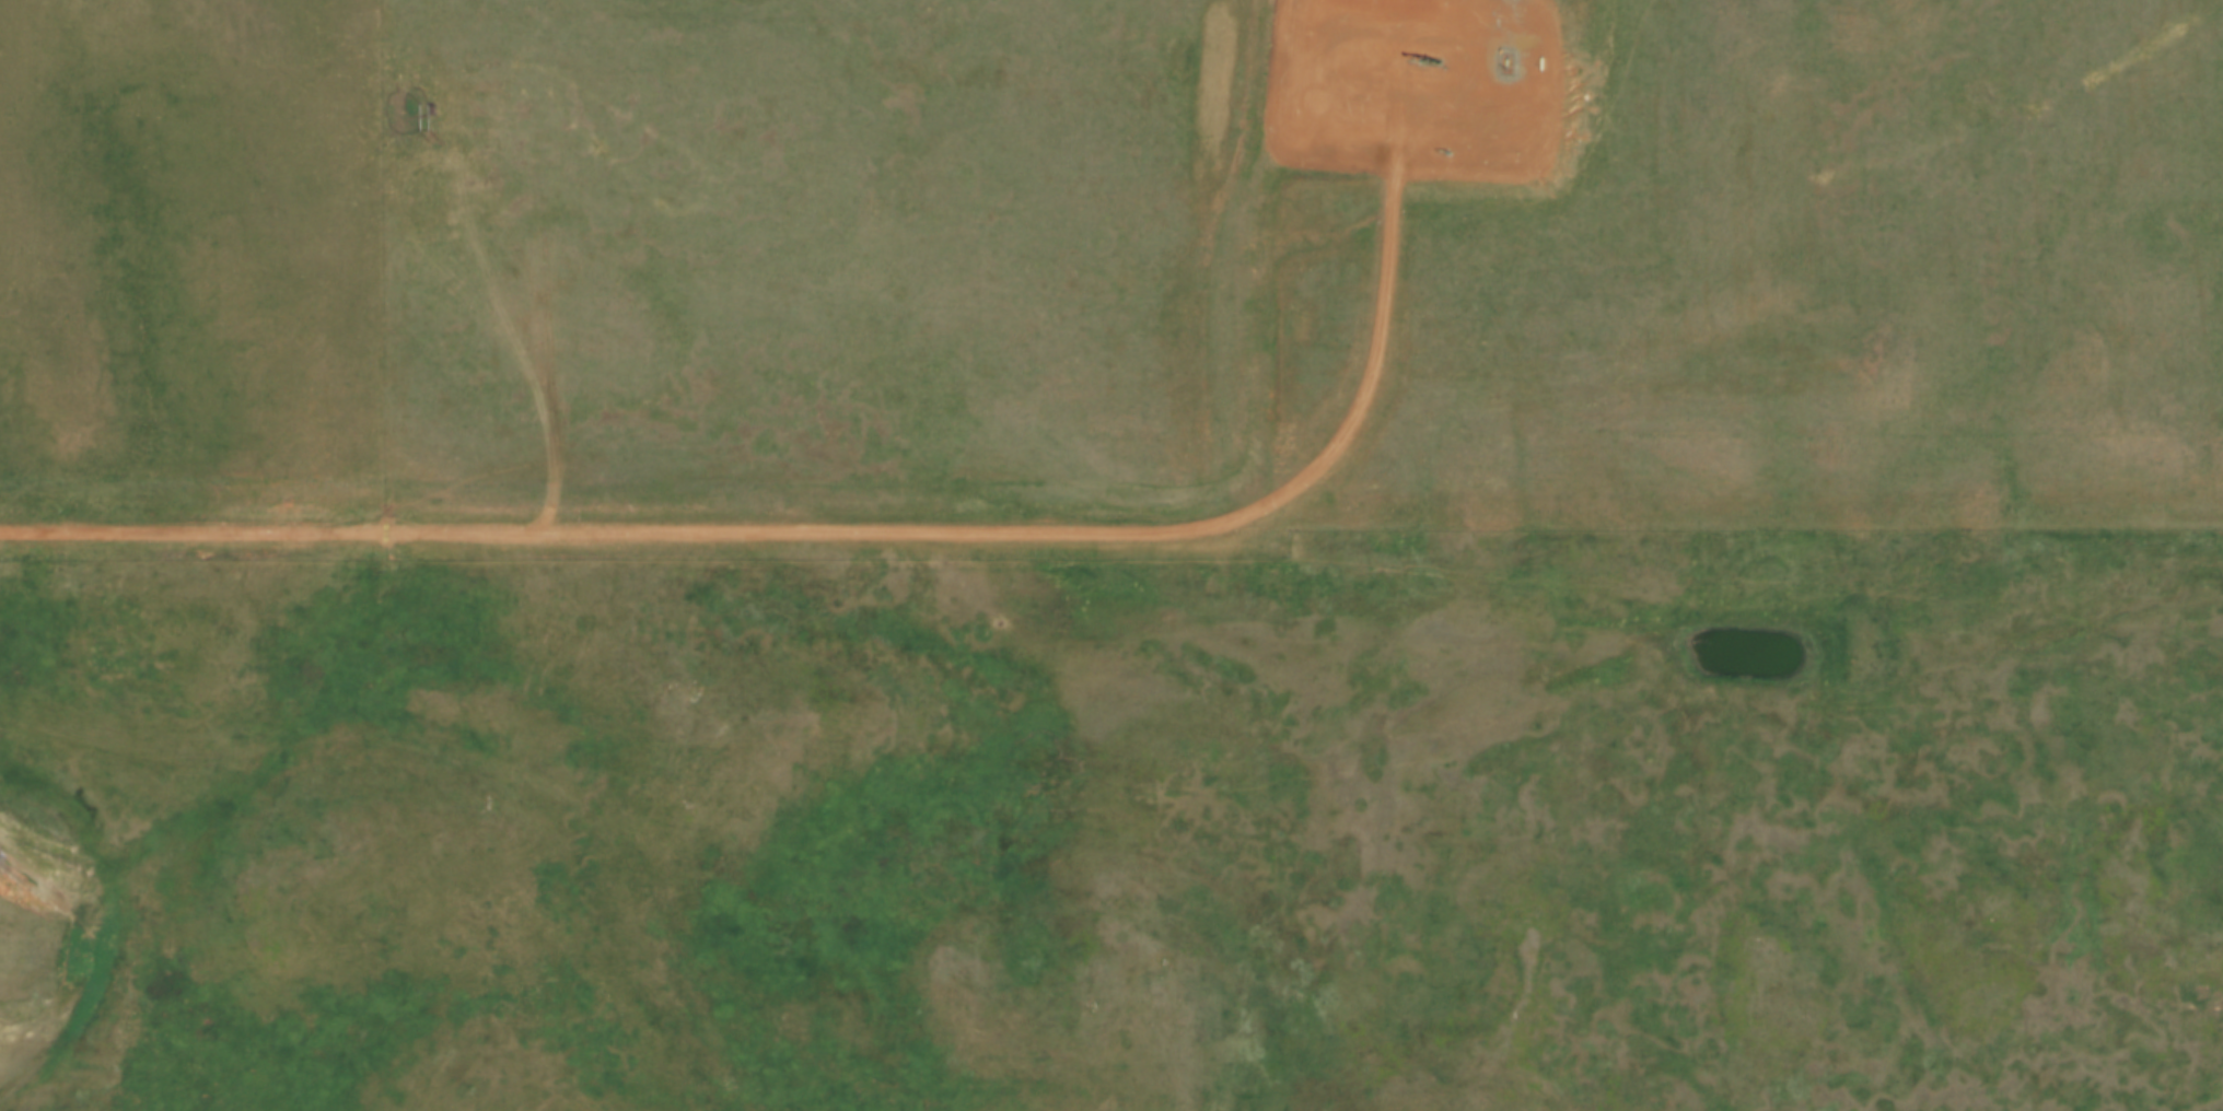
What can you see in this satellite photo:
road: (818, 535)

